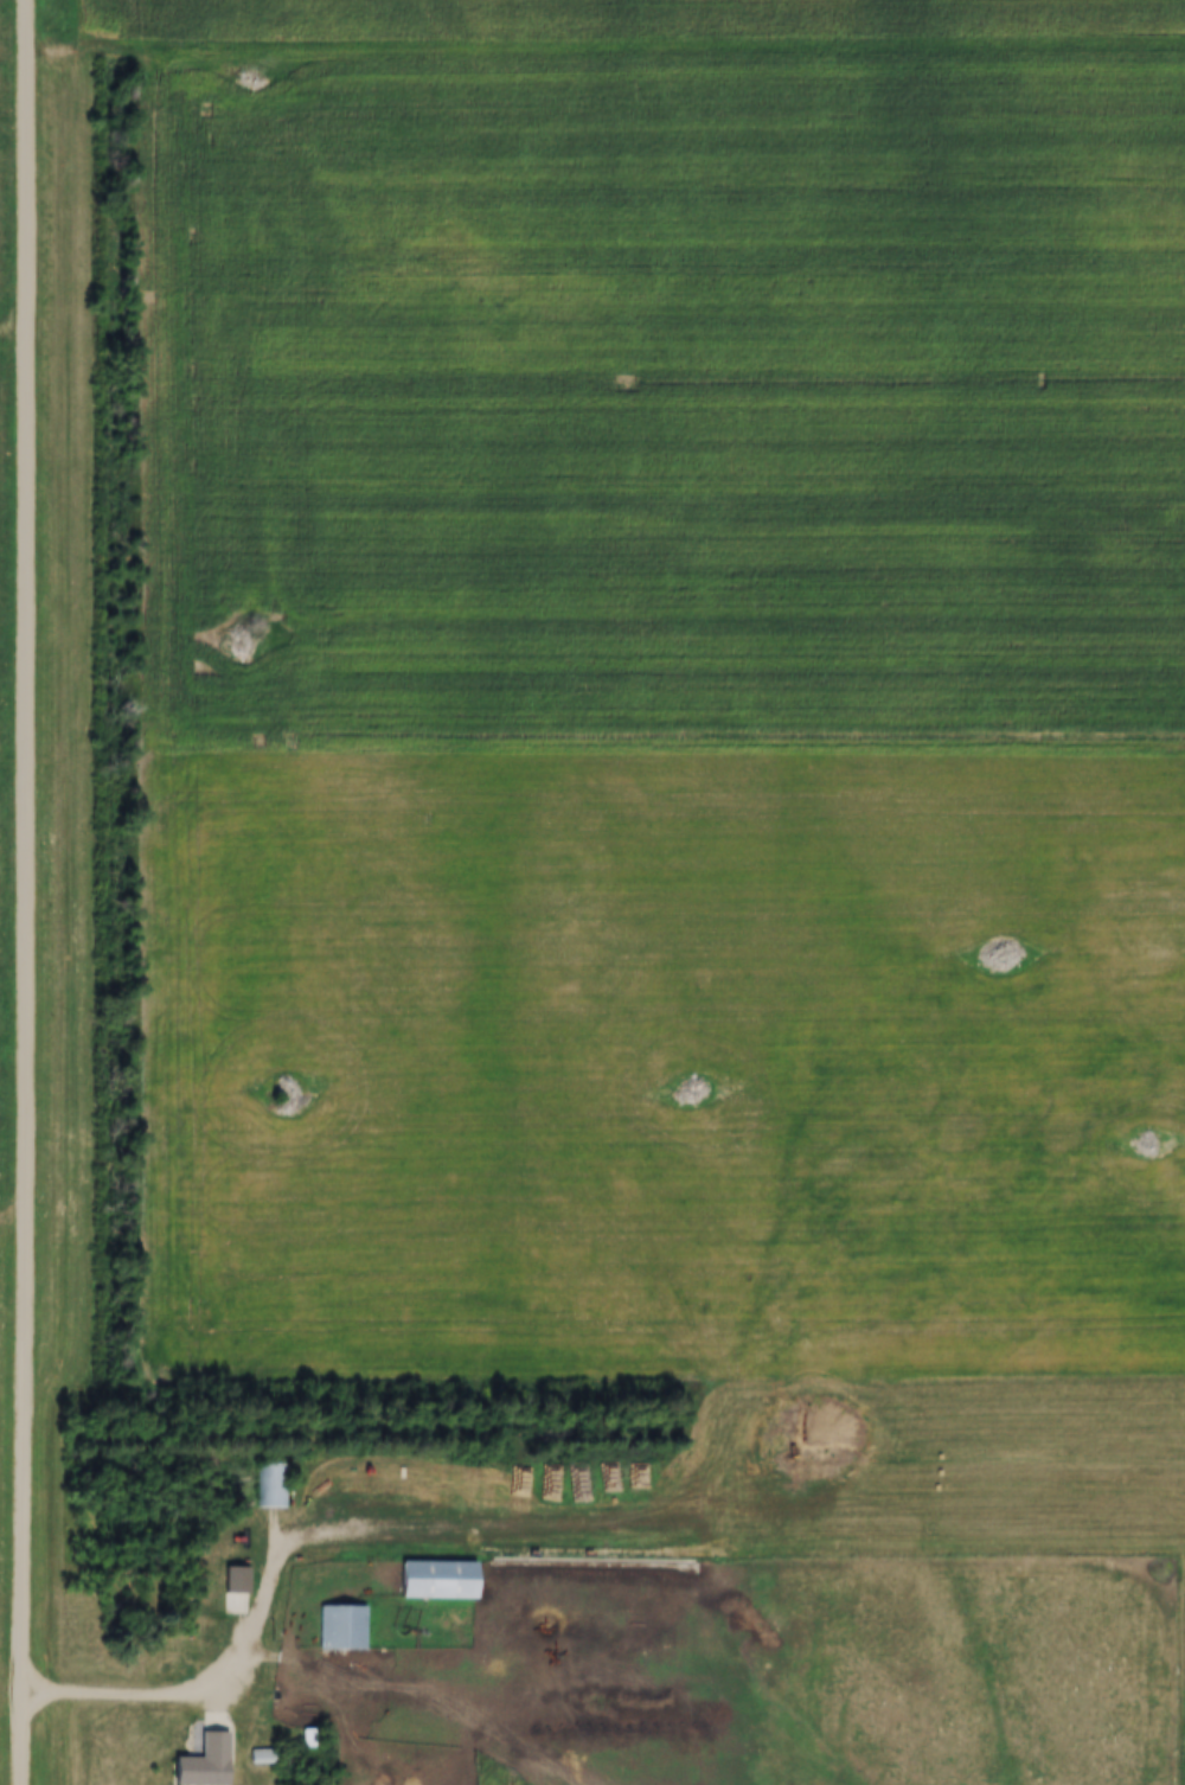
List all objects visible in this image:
road: (26, 892)
building: (274, 1485)
building: (437, 1580)
building: (242, 1593)
building: (341, 1627)
road: (147, 1700)
building: (307, 1742)
building: (205, 1762)

